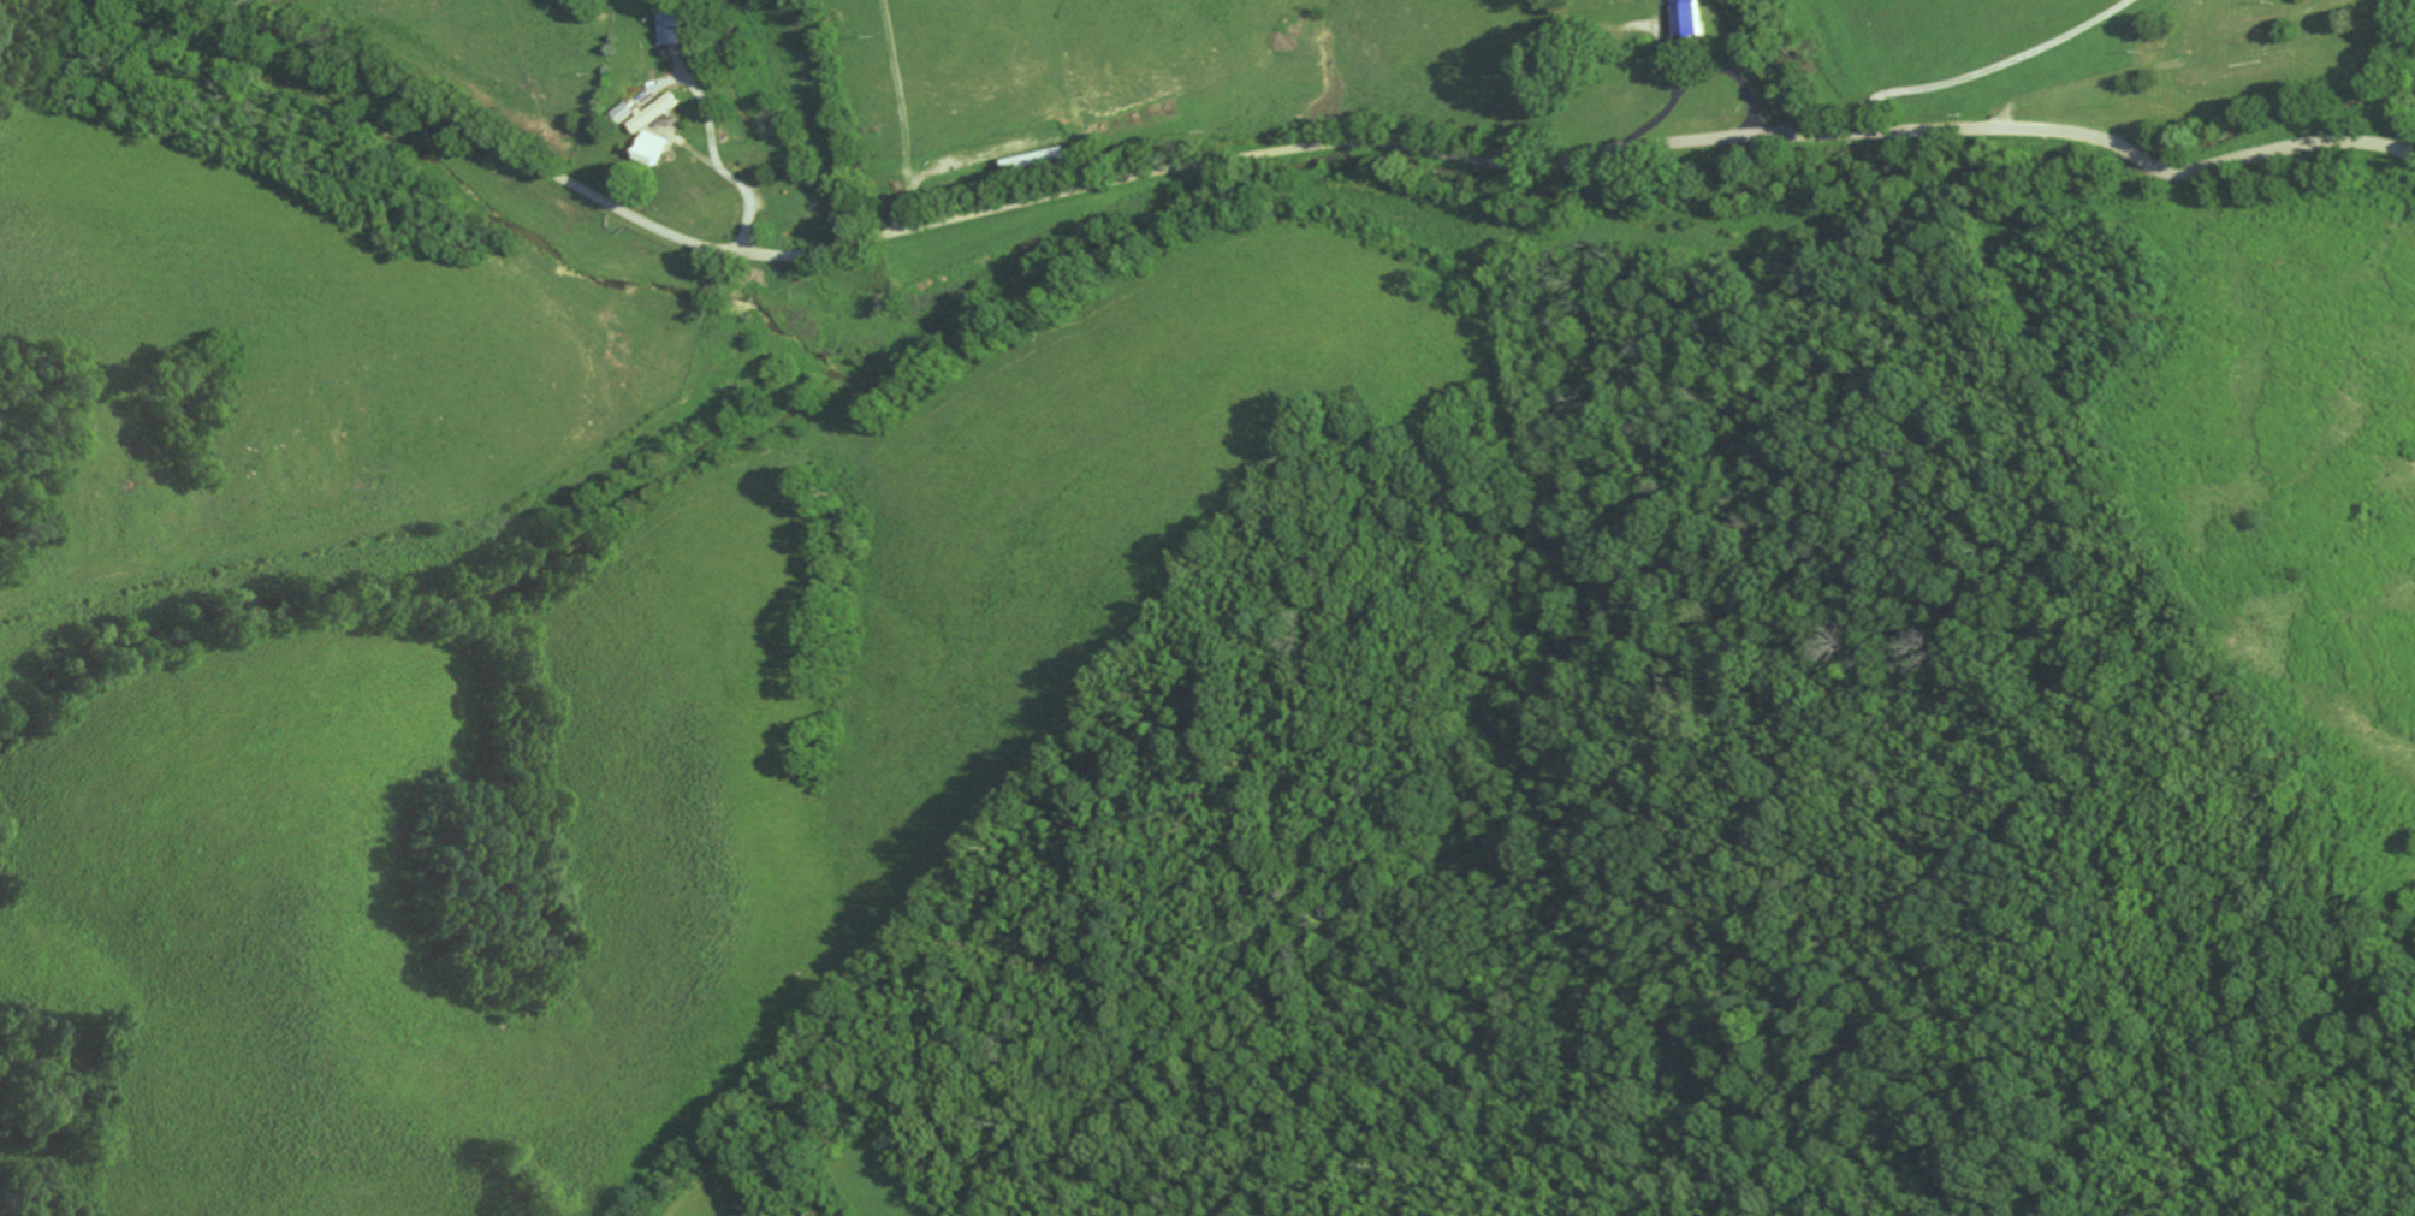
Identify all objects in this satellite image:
park: (1608, 7)
building: (1699, 17)
building: (675, 28)
road: (2368, 71)
road: (1698, 75)
road: (1853, 134)
building: (661, 150)
road: (696, 244)
road: (434, 529)

